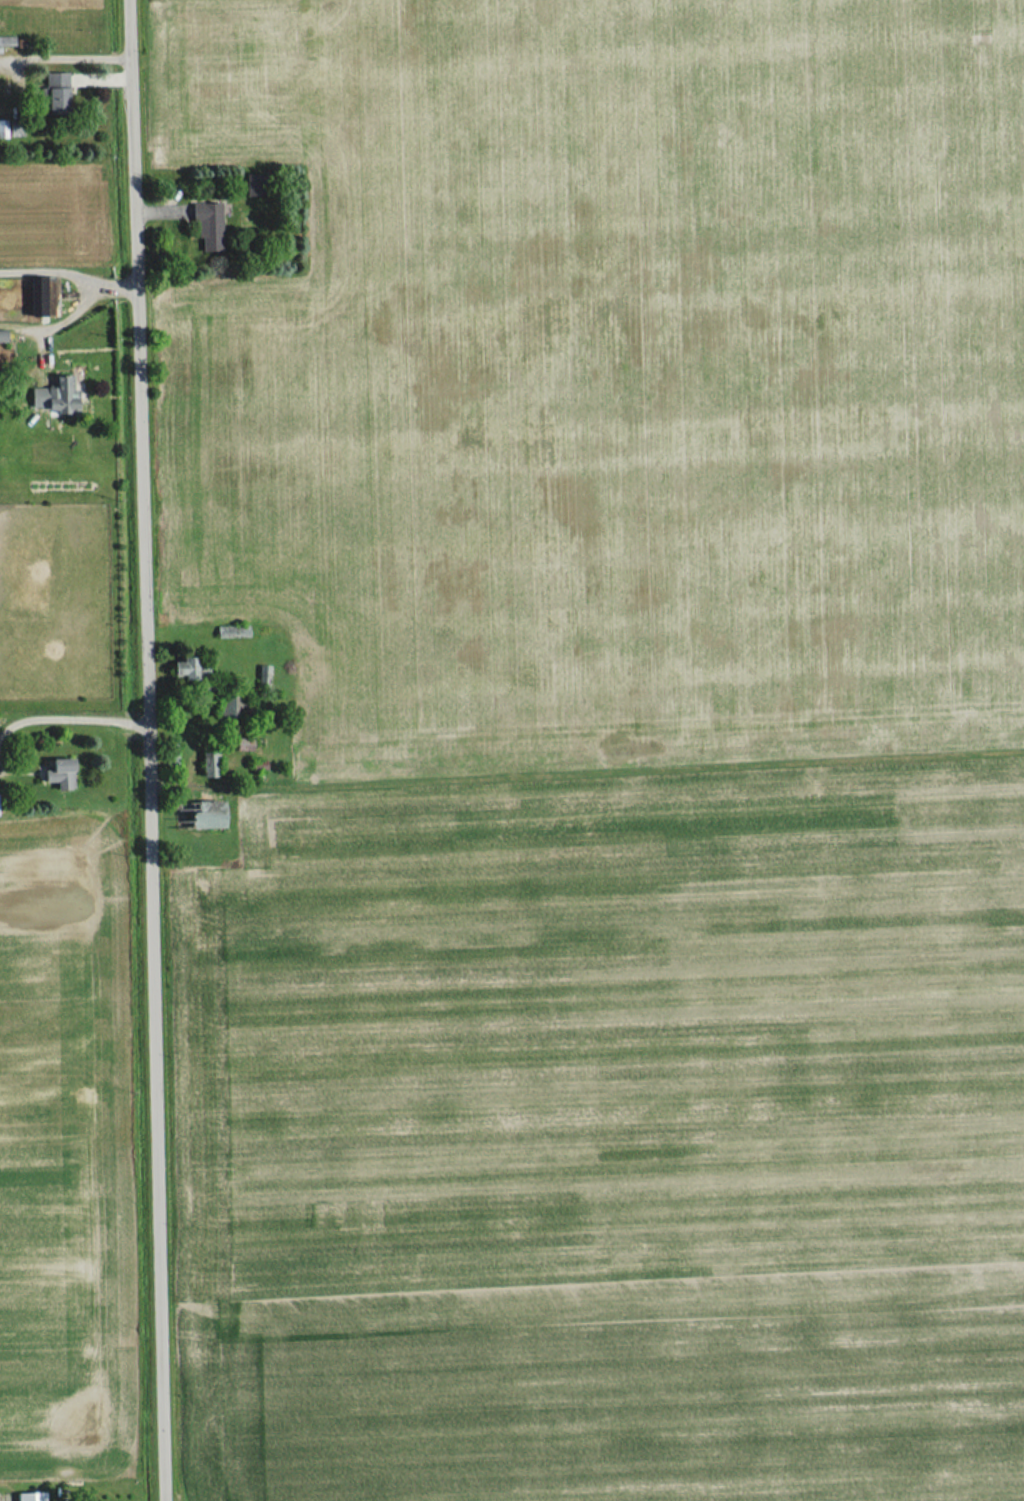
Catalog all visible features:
crop: (47, 3)
building: (60, 93)
building: (2, 129)
building: (255, 185)
crop: (54, 217)
building: (207, 227)
road: (66, 270)
building: (42, 295)
road: (56, 322)
crop: (609, 376)
building: (55, 396)
building: (186, 668)
road: (68, 705)
road: (138, 750)
building: (60, 773)
building: (209, 821)
crop: (611, 1135)
crop: (55, 1154)
building: (30, 1497)

